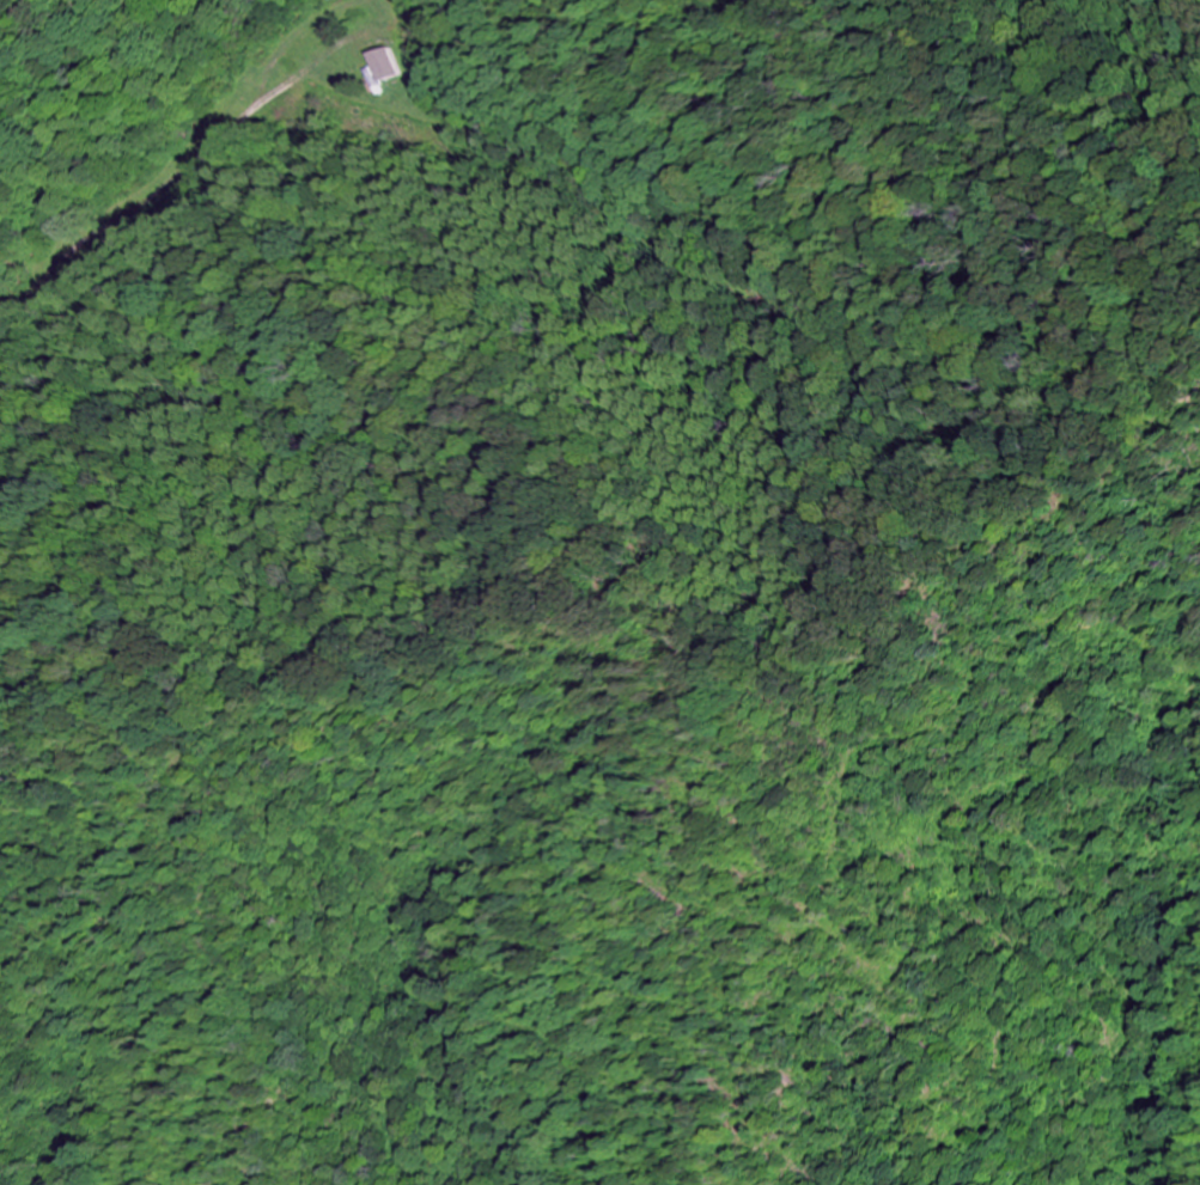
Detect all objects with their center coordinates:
building: (388, 66)
road: (164, 133)

